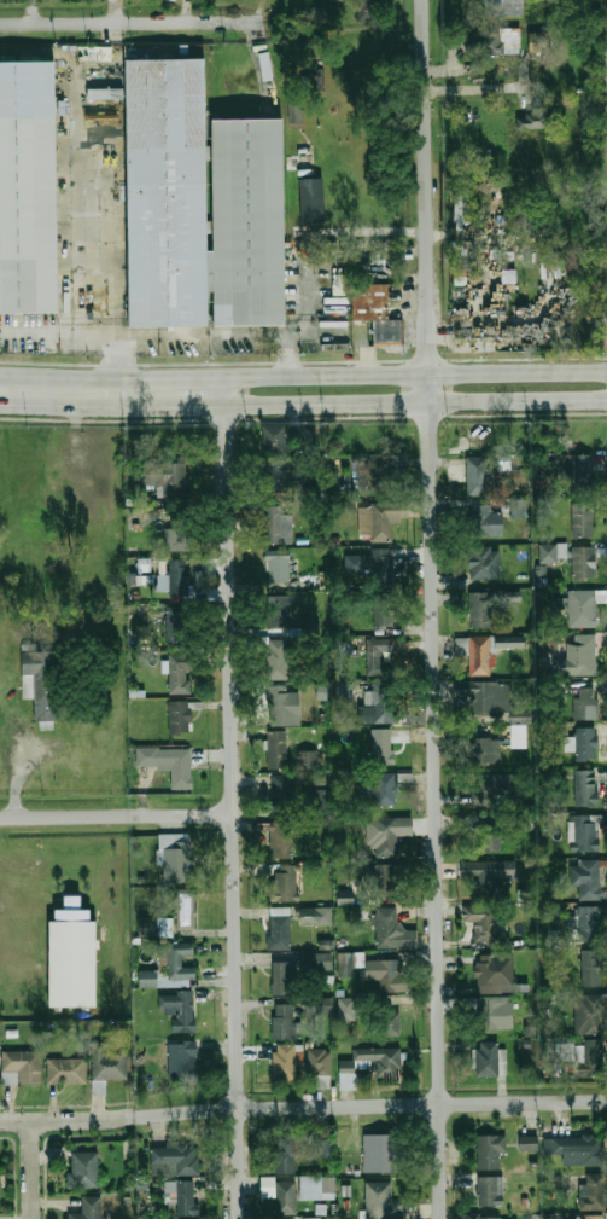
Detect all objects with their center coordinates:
building: (334, 0)
building: (602, 4)
building: (504, 7)
building: (368, 11)
road: (130, 22)
building: (537, 41)
building: (605, 41)
building: (481, 42)
building: (316, 77)
road: (473, 88)
building: (104, 93)
building: (293, 112)
building: (531, 121)
building: (307, 153)
building: (28, 187)
building: (165, 195)
building: (311, 199)
building: (465, 209)
building: (249, 221)
road: (113, 267)
building: (606, 286)
building: (377, 312)
road: (307, 332)
road: (202, 335)
road: (288, 354)
road: (412, 372)
road: (6, 385)
road: (116, 391)
road: (6, 393)
road: (413, 401)
building: (275, 439)
building: (158, 472)
building: (578, 472)
building: (280, 474)
building: (377, 474)
building: (477, 476)
building: (518, 509)
building: (386, 519)
building: (485, 519)
building: (583, 519)
building: (278, 526)
building: (179, 534)
building: (553, 552)
building: (484, 562)
building: (584, 562)
building: (276, 568)
building: (381, 569)
building: (539, 574)
building: (174, 577)
building: (139, 579)
building: (278, 604)
building: (579, 608)
road: (430, 609)
building: (383, 610)
building: (480, 610)
building: (176, 623)
building: (508, 642)
building: (378, 652)
building: (477, 652)
building: (578, 654)
building: (276, 658)
building: (180, 673)
building: (40, 681)
building: (344, 691)
building: (491, 697)
building: (280, 703)
building: (585, 703)
building: (380, 704)
building: (179, 716)
building: (519, 716)
building: (520, 736)
building: (585, 743)
building: (383, 747)
building: (278, 749)
building: (486, 750)
building: (147, 755)
building: (307, 759)
building: (182, 768)
building: (319, 779)
building: (389, 786)
building: (496, 788)
building: (585, 788)
building: (281, 794)
road: (233, 805)
road: (117, 815)
building: (584, 835)
building: (386, 836)
building: (489, 838)
building: (281, 841)
building: (174, 857)
building: (483, 876)
building: (380, 877)
building: (585, 877)
building: (285, 883)
building: (344, 896)
building: (186, 911)
building: (317, 916)
building: (486, 922)
building: (589, 923)
building: (154, 927)
building: (389, 928)
building: (279, 933)
building: (316, 960)
building: (71, 964)
building: (345, 964)
building: (591, 969)
building: (170, 970)
building: (495, 971)
building: (389, 976)
building: (285, 979)
building: (326, 1006)
building: (345, 1008)
building: (179, 1010)
building: (492, 1012)
building: (589, 1014)
building: (285, 1021)
building: (386, 1023)
building: (564, 1051)
building: (590, 1057)
building: (486, 1060)
building: (181, 1061)
building: (285, 1062)
building: (109, 1066)
building: (369, 1066)
building: (22, 1067)
building: (68, 1070)
building: (322, 1070)
road: (303, 1107)
building: (529, 1143)
building: (325, 1148)
building: (574, 1149)
building: (490, 1151)
building: (381, 1153)
building: (285, 1155)
building: (174, 1160)
road: (33, 1169)
building: (84, 1169)
building: (319, 1188)
building: (491, 1191)
building: (593, 1192)
building: (181, 1196)
building: (286, 1197)
building: (380, 1201)
building: (88, 1208)
building: (320, 1218)
building: (490, 1218)
building: (586, 1218)

